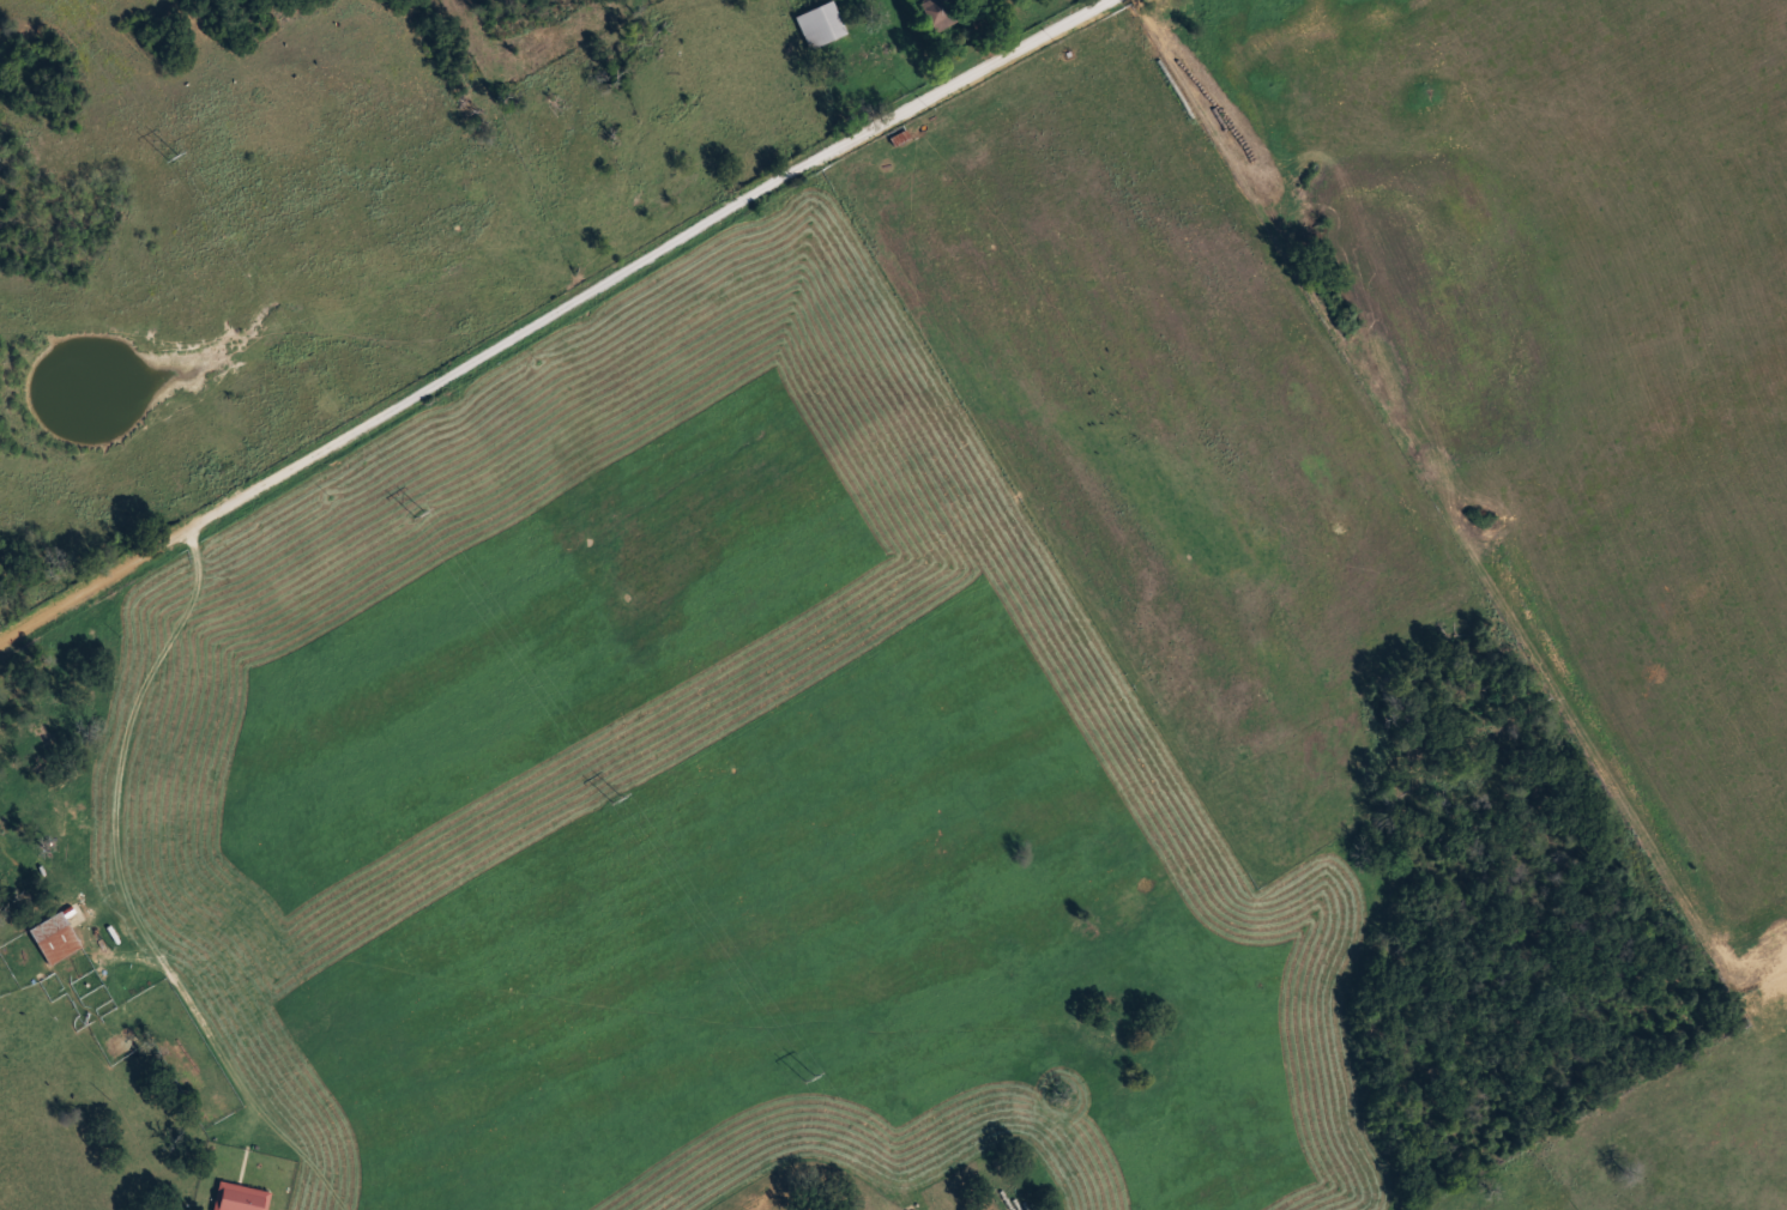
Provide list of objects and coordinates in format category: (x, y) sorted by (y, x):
building: (813, 23)
power tower: (170, 156)
road: (541, 309)
power tower: (416, 513)
power tower: (616, 799)
road: (126, 835)
building: (60, 936)
power tower: (808, 1076)
building: (244, 1197)

